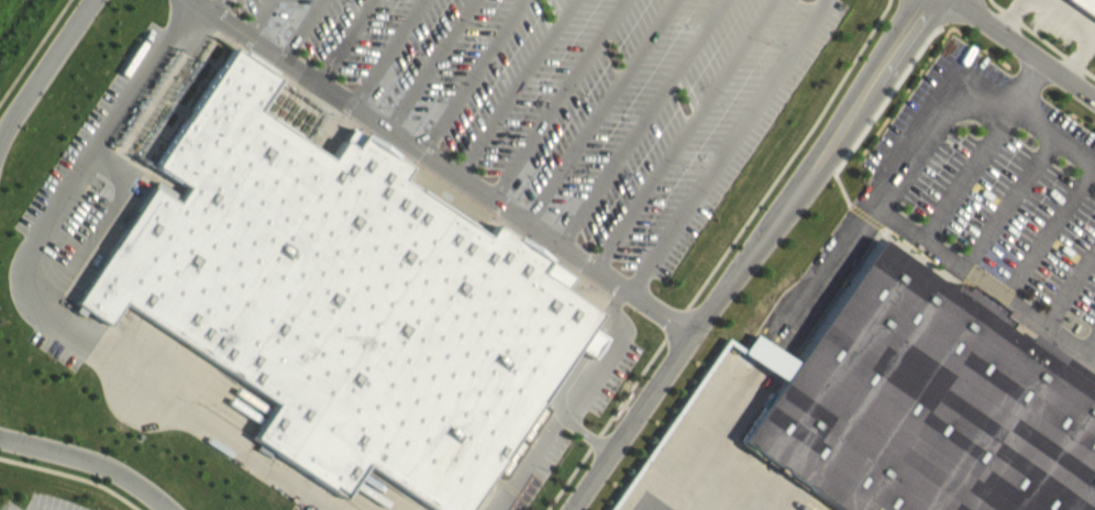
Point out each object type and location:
road: (198, 0)
building: (1086, 4)
road: (222, 7)
road: (265, 19)
road: (308, 30)
road: (1044, 37)
road: (350, 42)
road: (1026, 48)
road: (34, 49)
road: (392, 53)
road: (433, 65)
road: (47, 73)
road: (476, 76)
road: (518, 88)
parking lot: (114, 96)
parking lot: (578, 99)
road: (561, 100)
road: (604, 111)
road: (645, 123)
road: (1057, 134)
road: (688, 135)
road: (732, 147)
road: (447, 168)
road: (815, 168)
road: (975, 174)
road: (81, 176)
parking lot: (997, 193)
road: (1016, 203)
road: (886, 208)
road: (108, 218)
road: (1052, 235)
road: (726, 258)
road: (1073, 292)
building: (344, 300)
road: (610, 355)
road: (580, 358)
building: (777, 363)
parking lot: (618, 379)
building: (929, 406)
road: (634, 422)
road: (207, 430)
road: (587, 434)
road: (530, 461)
road: (87, 463)
parking lot: (542, 473)
road: (70, 477)
parking lot: (42, 502)

